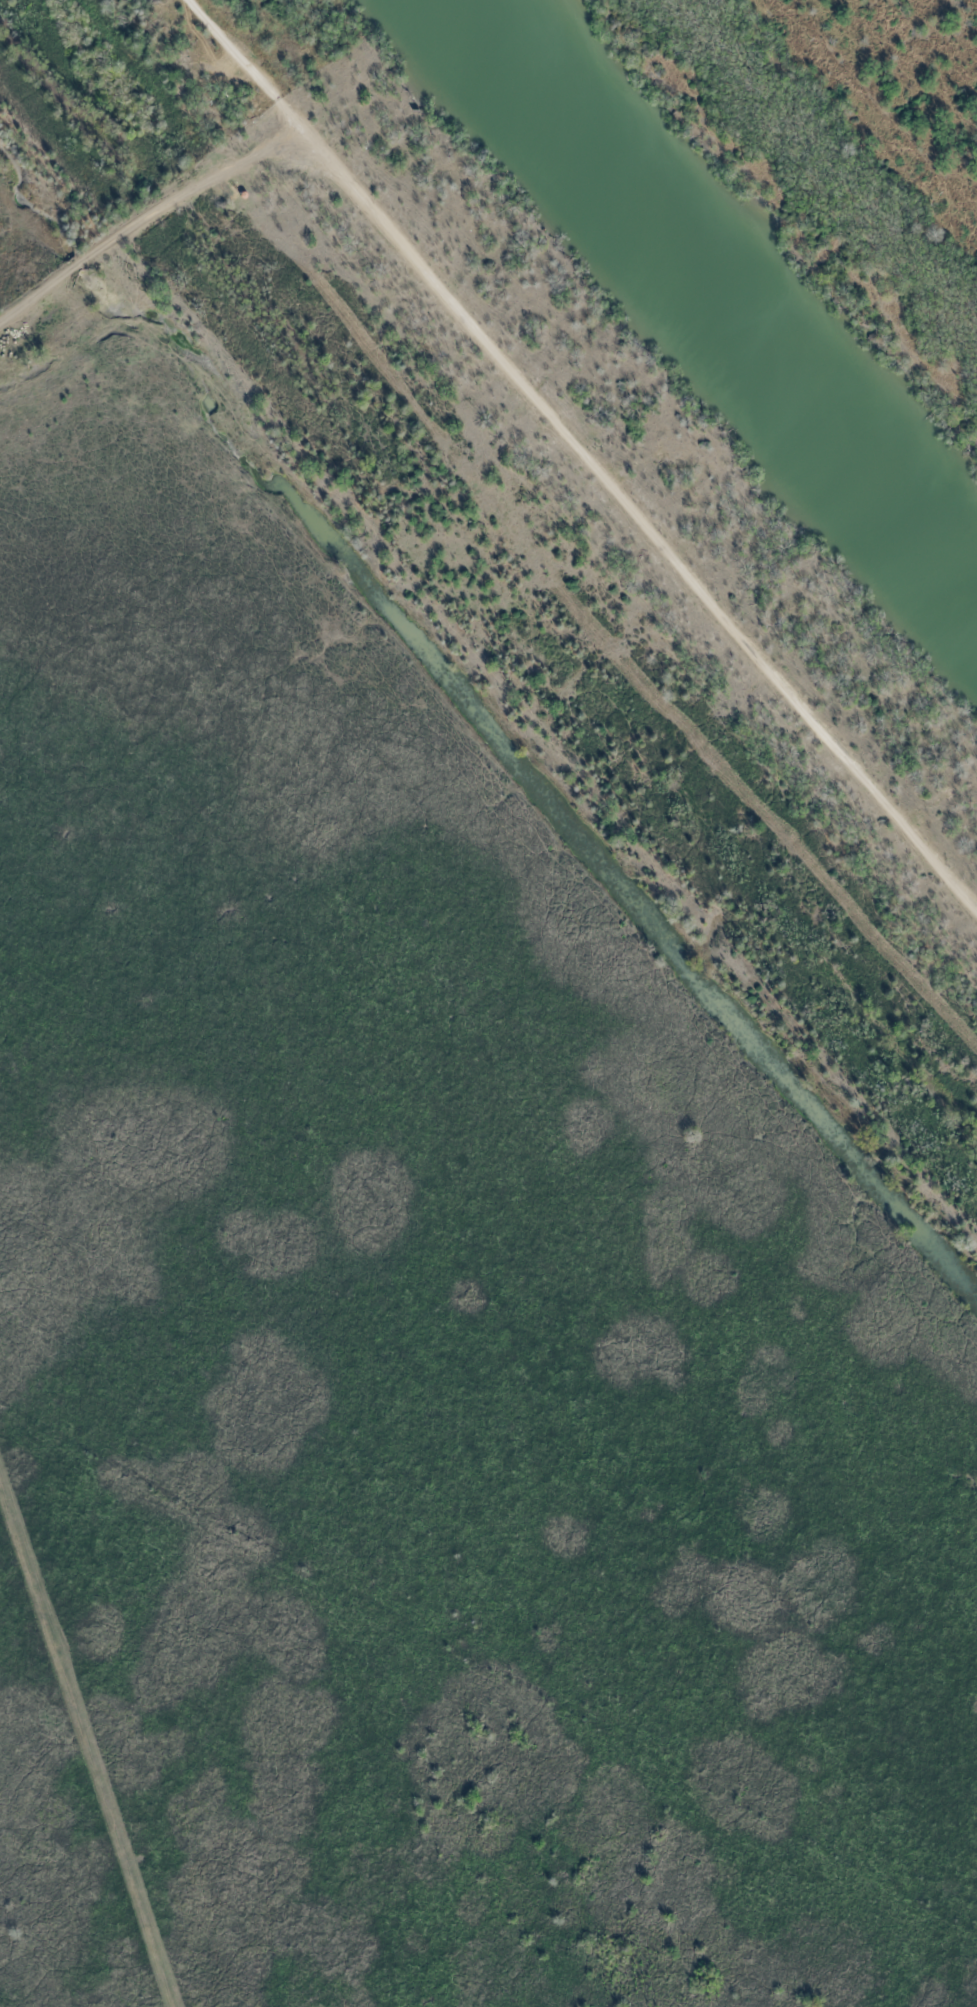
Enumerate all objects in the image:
road: (146, 215)
road: (586, 451)

